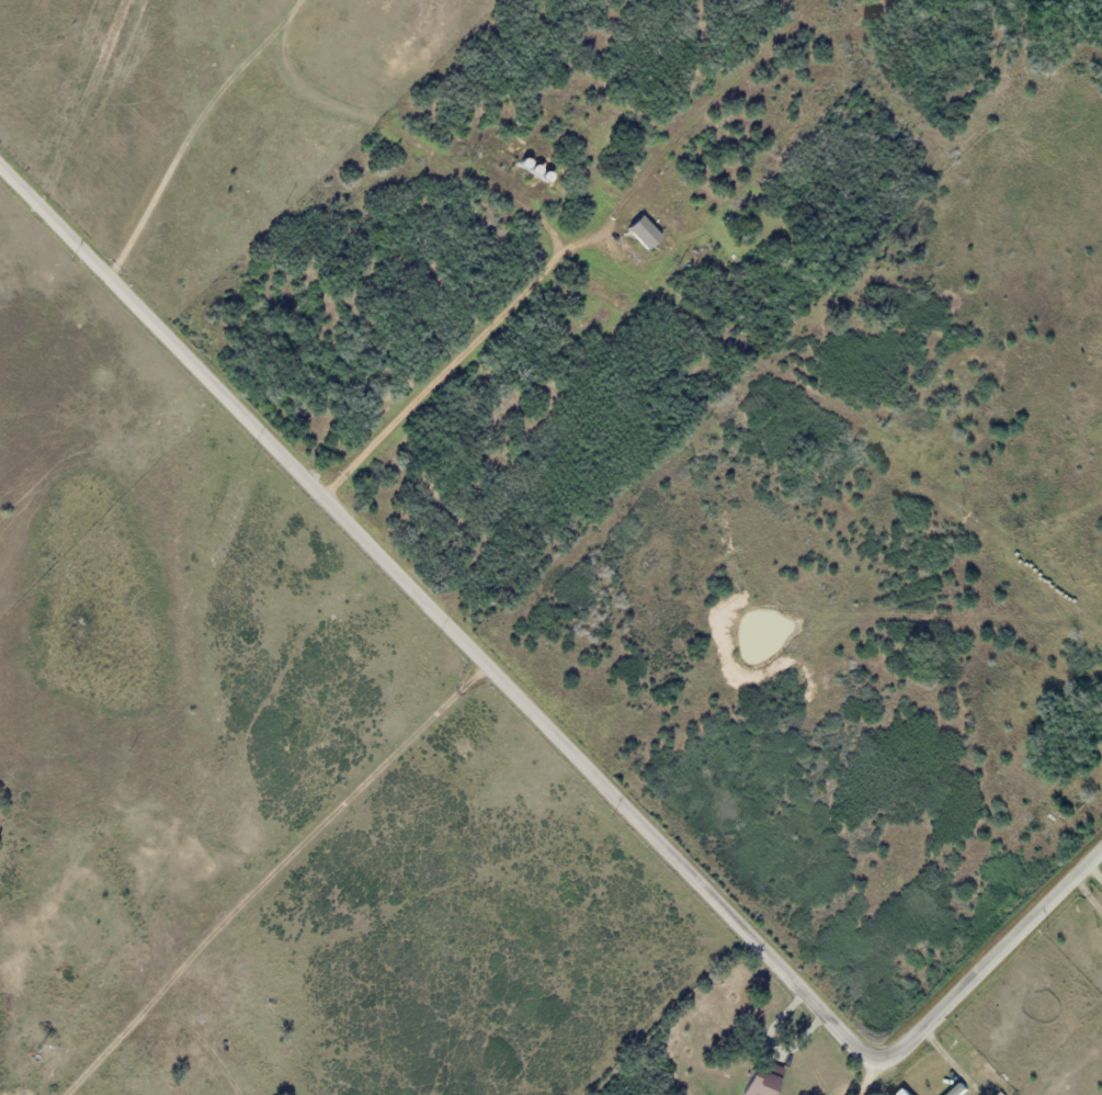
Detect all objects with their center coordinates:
road: (94, 89)
building: (641, 232)
road: (543, 714)
road: (804, 838)
road: (781, 860)
road: (764, 867)
road: (862, 1071)
building: (759, 1081)
building: (905, 1092)

